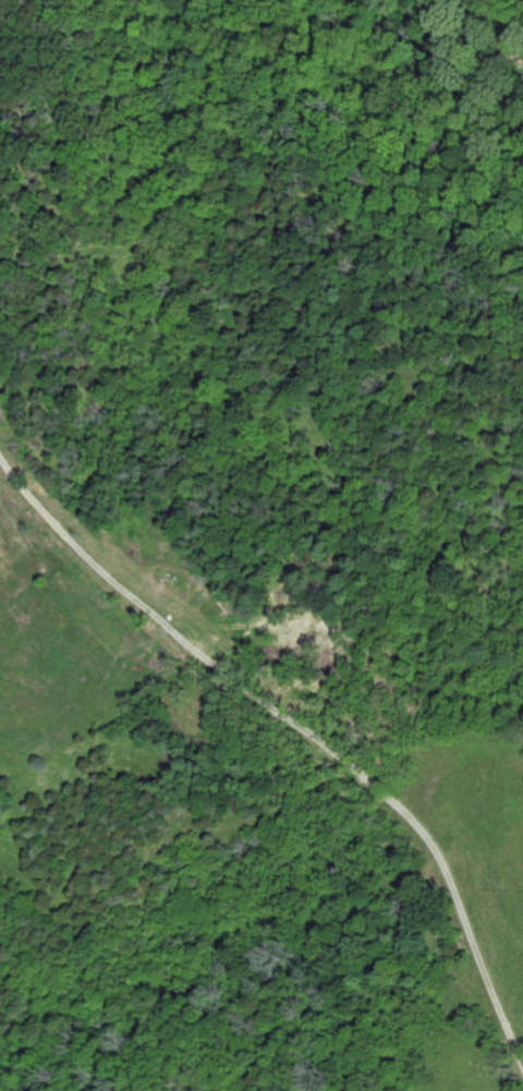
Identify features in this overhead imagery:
road: (304, 728)

